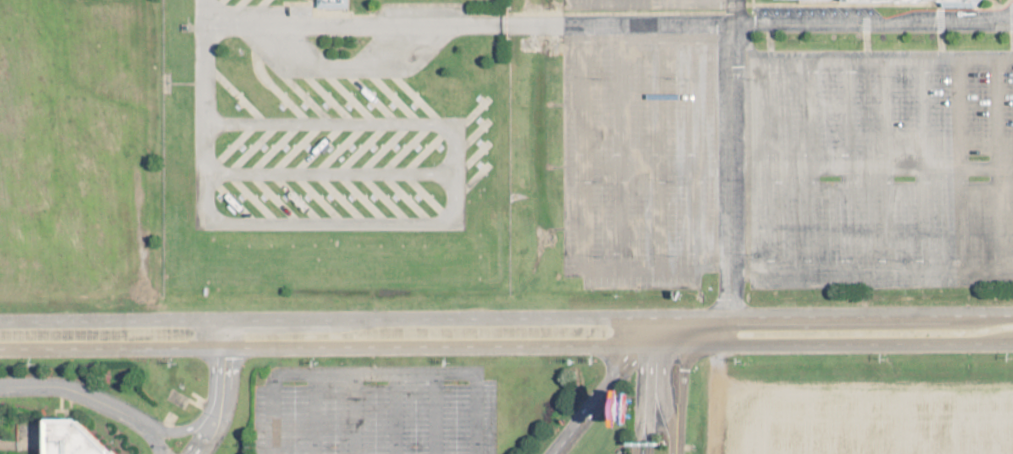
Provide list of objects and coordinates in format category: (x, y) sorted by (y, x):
building: (825, 3)
building: (340, 4)
road: (732, 12)
road: (607, 25)
road: (202, 62)
road: (872, 167)
road: (730, 183)
road: (328, 202)
road: (453, 280)
road: (506, 317)
road: (506, 345)
road: (685, 373)
road: (661, 375)
road: (643, 384)
road: (606, 385)
road: (222, 390)
road: (91, 398)
road: (434, 414)
building: (65, 438)
road: (676, 442)

